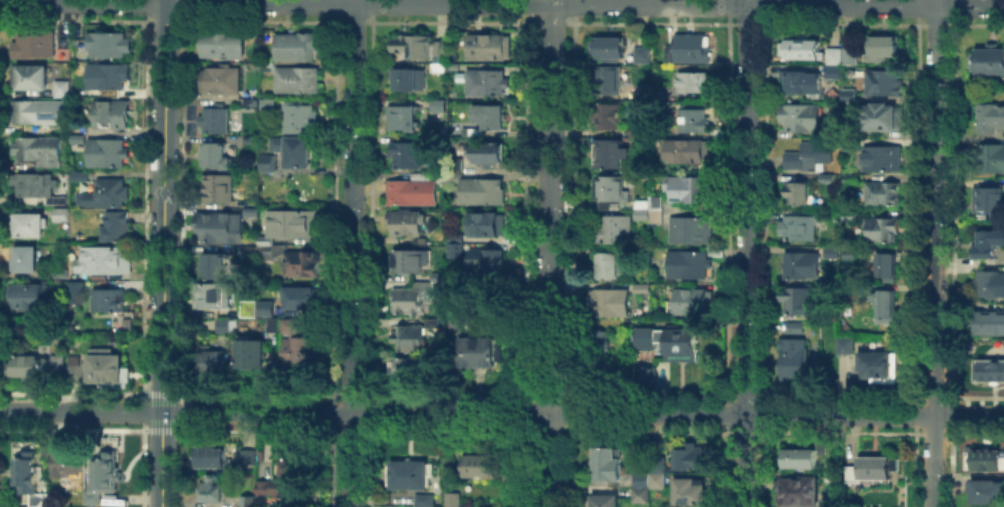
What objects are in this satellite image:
road: (549, 2)
road: (274, 3)
road: (776, 6)
building: (222, 43)
building: (35, 46)
building: (109, 47)
building: (296, 48)
building: (415, 48)
building: (883, 48)
building: (490, 49)
building: (606, 50)
building: (689, 50)
building: (799, 50)
building: (442, 54)
building: (644, 57)
building: (992, 63)
building: (841, 65)
building: (460, 68)
building: (267, 69)
building: (108, 77)
building: (30, 79)
building: (299, 81)
building: (406, 82)
building: (608, 82)
building: (225, 83)
building: (486, 85)
building: (695, 85)
building: (802, 85)
building: (883, 85)
building: (63, 91)
building: (849, 96)
building: (252, 104)
building: (266, 107)
building: (37, 115)
building: (112, 116)
building: (988, 116)
building: (490, 117)
building: (799, 117)
building: (609, 118)
building: (404, 119)
building: (300, 120)
building: (882, 120)
building: (695, 121)
building: (214, 122)
building: (476, 134)
building: (78, 141)
building: (251, 142)
building: (847, 146)
building: (39, 151)
building: (295, 153)
building: (689, 153)
building: (609, 154)
building: (108, 155)
building: (488, 155)
building: (808, 157)
building: (216, 158)
building: (407, 158)
building: (882, 160)
building: (988, 160)
building: (269, 165)
building: (79, 178)
building: (851, 178)
building: (830, 180)
building: (40, 188)
building: (476, 188)
building: (218, 191)
building: (691, 192)
building: (798, 192)
building: (412, 193)
building: (107, 194)
building: (610, 194)
building: (883, 197)
building: (989, 201)
building: (642, 208)
road: (548, 209)
building: (658, 211)
building: (58, 213)
building: (850, 217)
building: (294, 225)
building: (408, 226)
building: (27, 227)
building: (489, 227)
building: (115, 228)
building: (219, 230)
building: (800, 230)
building: (618, 231)
building: (881, 232)
building: (693, 233)
building: (989, 245)
building: (457, 248)
building: (829, 251)
road: (162, 253)
road: (352, 253)
road: (744, 253)
road: (934, 253)
building: (834, 254)
building: (850, 255)
building: (268, 257)
building: (26, 261)
building: (104, 261)
building: (411, 265)
building: (489, 265)
building: (302, 266)
building: (690, 266)
building: (887, 267)
building: (214, 268)
building: (609, 268)
building: (803, 268)
building: (439, 278)
building: (989, 286)
building: (78, 288)
building: (29, 297)
building: (215, 298)
building: (412, 300)
building: (303, 301)
building: (111, 302)
building: (692, 303)
building: (800, 303)
building: (610, 304)
building: (267, 307)
building: (251, 309)
building: (886, 312)
building: (989, 324)
building: (226, 328)
building: (272, 328)
building: (292, 328)
building: (796, 330)
building: (827, 334)
building: (409, 341)
building: (672, 344)
building: (600, 347)
building: (847, 349)
building: (300, 354)
building: (480, 355)
building: (253, 357)
building: (795, 363)
building: (31, 365)
building: (213, 366)
building: (60, 367)
building: (881, 369)
building: (110, 370)
building: (412, 371)
building: (990, 373)
building: (76, 374)
building: (647, 378)
road: (81, 411)
road: (354, 413)
road: (775, 415)
building: (260, 454)
building: (211, 455)
building: (246, 455)
road: (546, 460)
building: (803, 460)
building: (69, 461)
building: (692, 461)
building: (985, 461)
building: (607, 468)
building: (483, 469)
building: (875, 469)
building: (106, 471)
building: (29, 476)
building: (288, 477)
building: (412, 477)
building: (643, 480)
building: (833, 485)
building: (263, 486)
building: (210, 488)
building: (797, 493)
building: (985, 494)
building: (692, 495)
building: (642, 497)
building: (94, 499)
building: (247, 500)
building: (455, 500)
building: (426, 502)
building: (604, 503)
building: (78, 506)

